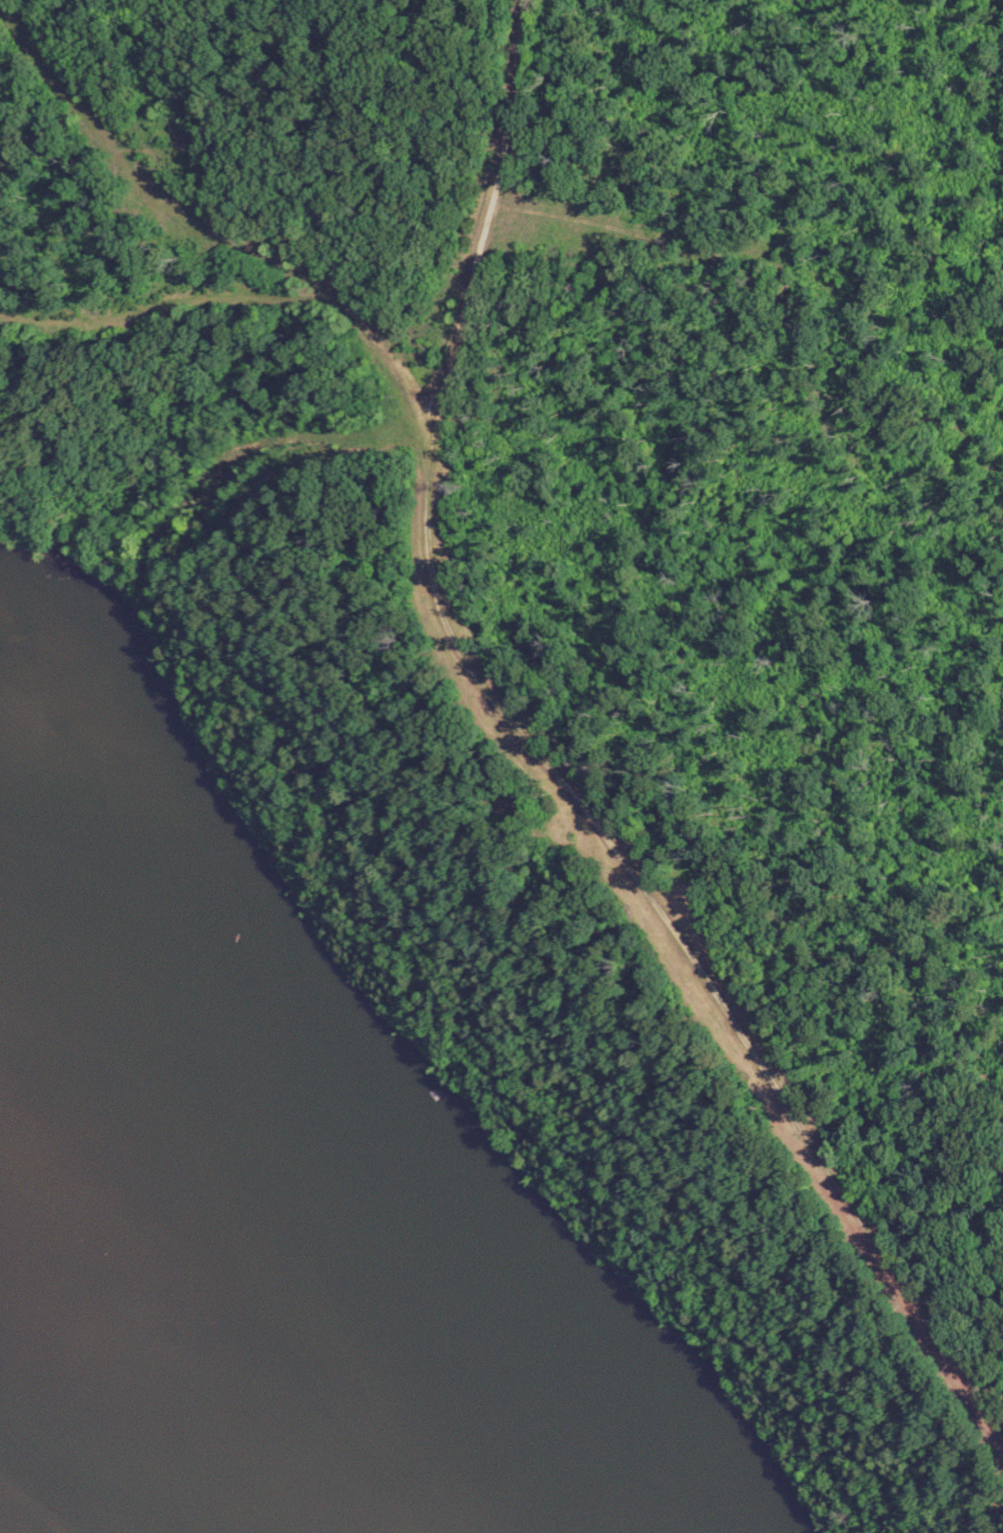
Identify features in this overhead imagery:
road: (487, 230)
road: (485, 687)
river: (262, 1259)

